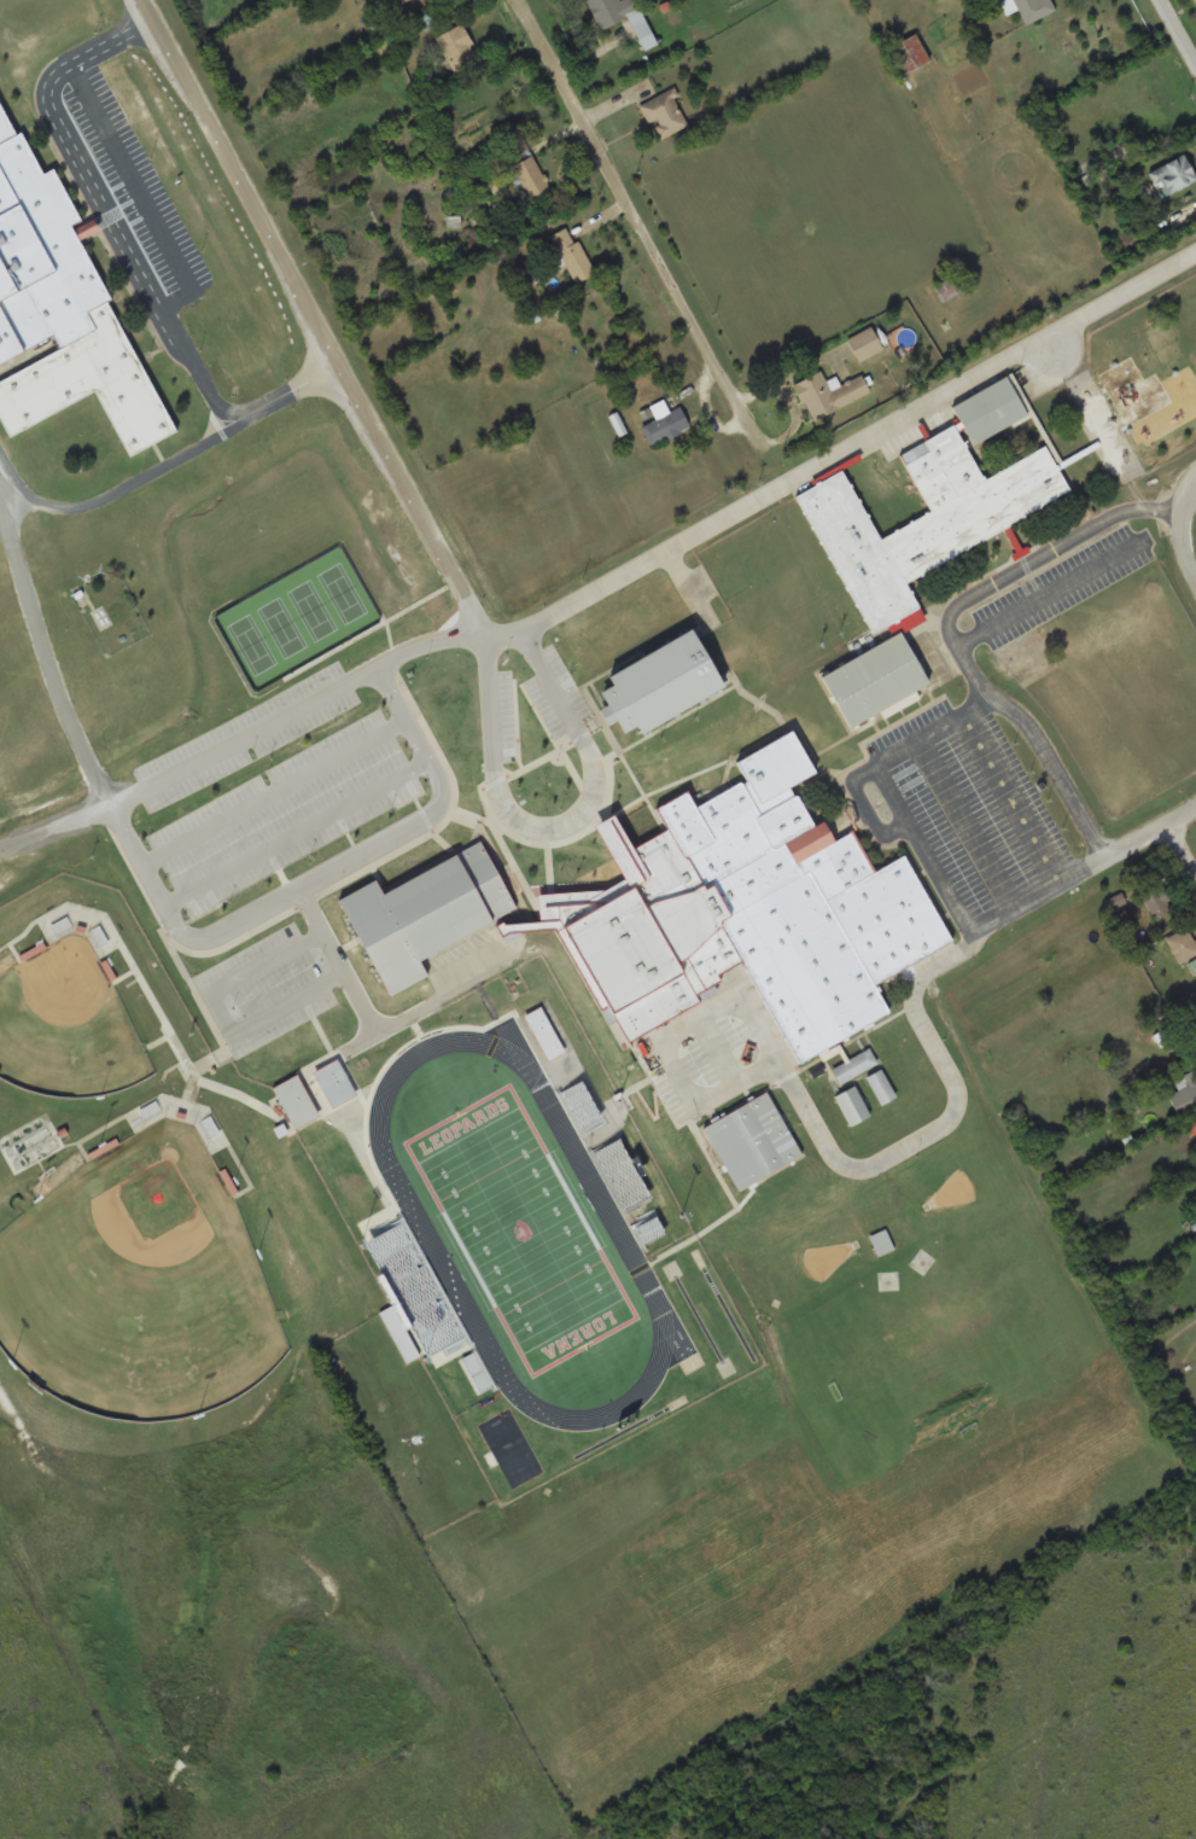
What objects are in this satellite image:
building: (404, 1)
building: (1028, 8)
building: (623, 17)
building: (430, 18)
road: (1179, 30)
building: (455, 42)
building: (909, 54)
building: (664, 114)
building: (1173, 175)
building: (530, 178)
road: (136, 192)
road: (635, 220)
road: (128, 254)
building: (572, 255)
building: (950, 286)
building: (60, 318)
building: (462, 321)
building: (864, 344)
building: (828, 392)
building: (988, 409)
building: (664, 421)
building: (920, 519)
road: (1183, 530)
road: (532, 629)
road: (952, 632)
building: (873, 680)
building: (655, 682)
road: (247, 746)
road: (892, 795)
road: (287, 796)
road: (565, 830)
road: (1154, 832)
road: (308, 836)
road: (1183, 848)
road: (327, 883)
building: (1159, 901)
building: (749, 912)
building: (425, 915)
building: (60, 927)
building: (97, 936)
building: (1183, 944)
road: (349, 964)
road: (914, 1003)
road: (439, 1006)
building: (1195, 1011)
road: (233, 1015)
park: (65, 1025)
building: (542, 1032)
building: (894, 1035)
building: (852, 1065)
building: (333, 1083)
building: (880, 1086)
building: (799, 1090)
building: (1185, 1095)
building: (293, 1100)
building: (578, 1105)
building: (851, 1105)
building: (148, 1111)
building: (208, 1127)
building: (749, 1140)
building: (618, 1174)
track: (594, 1191)
building: (1195, 1218)
park: (519, 1229)
building: (647, 1230)
building: (881, 1241)
track: (444, 1270)
park: (136, 1285)
building: (413, 1290)
building: (398, 1334)
building: (474, 1372)

